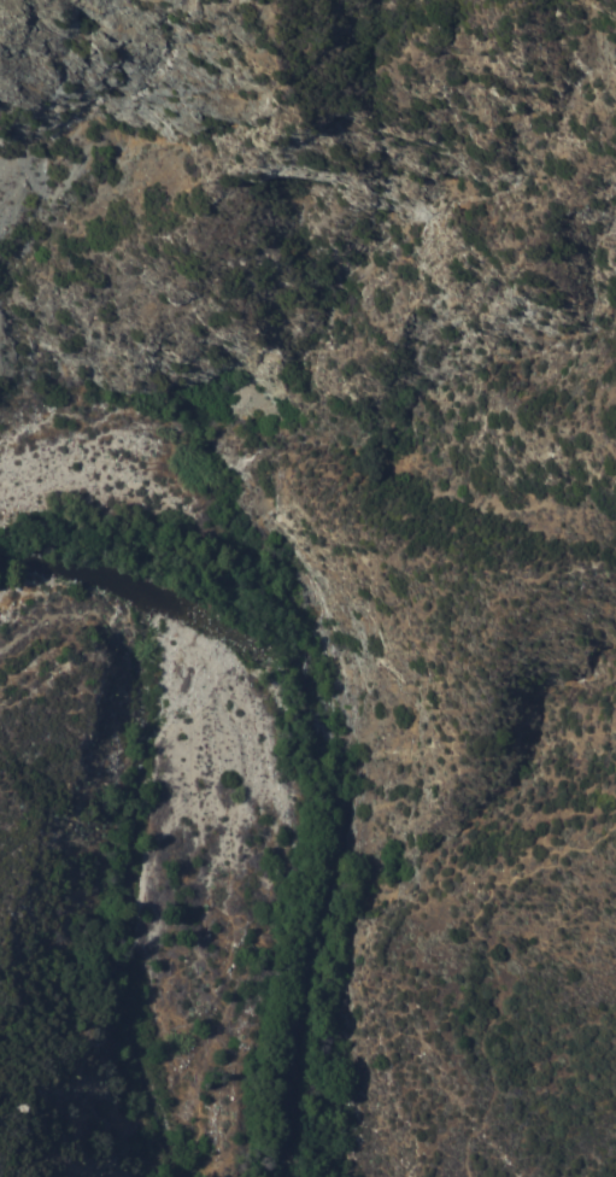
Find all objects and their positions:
river: (321, 742)
road: (486, 955)

